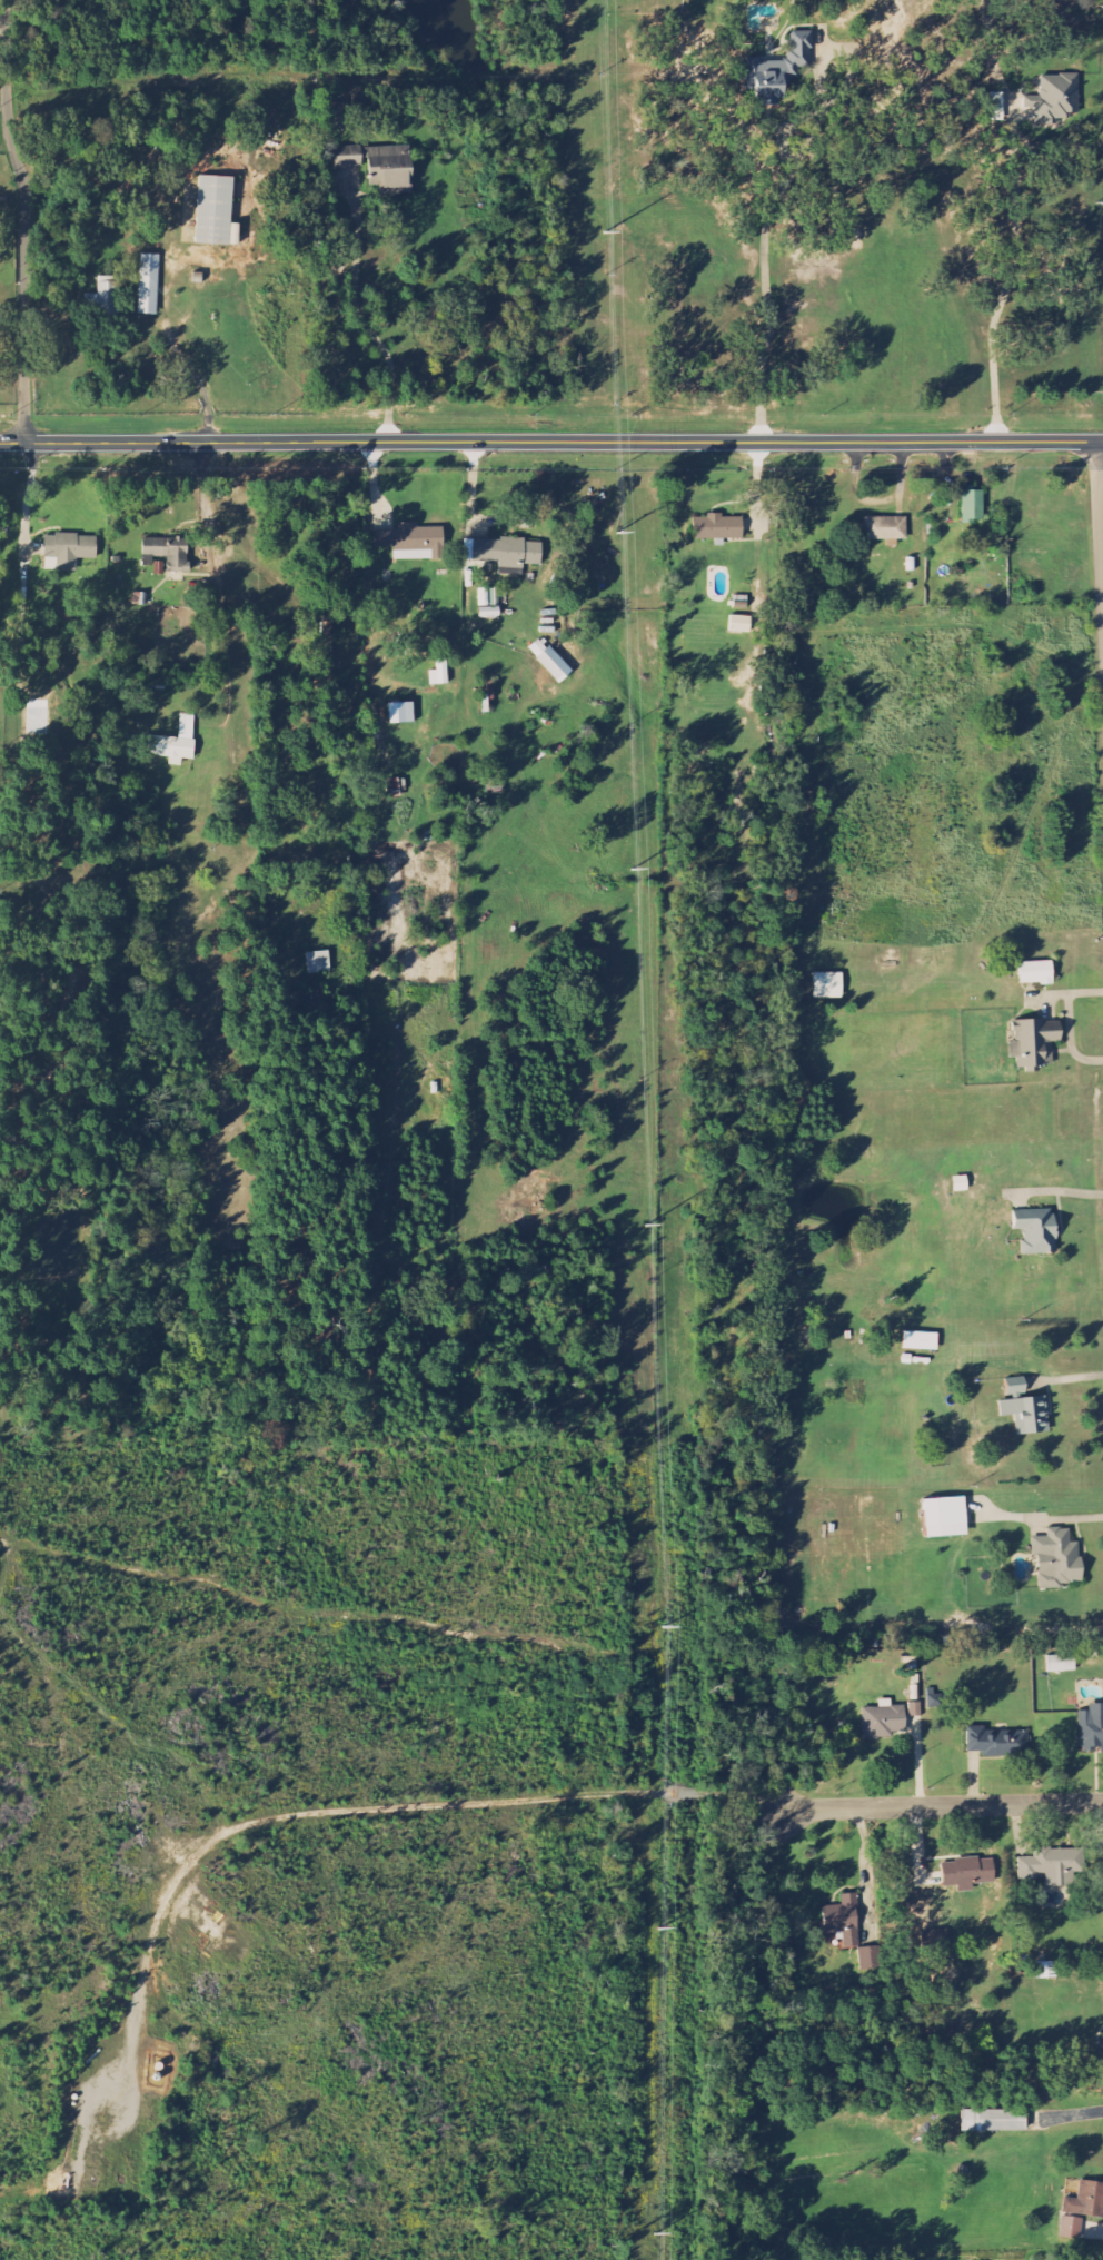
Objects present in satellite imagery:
building: (777, 70)
building: (1054, 99)
building: (335, 118)
building: (216, 212)
road: (24, 219)
power tower: (605, 232)
building: (148, 285)
road: (162, 286)
building: (106, 297)
road: (361, 321)
road: (550, 442)
road: (1100, 496)
building: (972, 506)
building: (717, 527)
power tower: (616, 532)
building: (413, 542)
building: (70, 549)
building: (166, 552)
building: (506, 554)
building: (488, 603)
building: (741, 625)
building: (549, 661)
road: (284, 664)
building: (400, 713)
building: (176, 743)
building: (397, 787)
power tower: (632, 869)
building: (318, 963)
building: (1036, 973)
building: (827, 985)
building: (1034, 1043)
power tower: (644, 1225)
building: (1036, 1231)
building: (920, 1341)
building: (1025, 1412)
building: (944, 1517)
building: (1057, 1558)
power tower: (660, 1628)
building: (1061, 1664)
building: (915, 1709)
building: (884, 1721)
building: (1091, 1729)
building: (997, 1744)
road: (941, 1805)
road: (321, 1813)
building: (1051, 1865)
building: (967, 1873)
building: (843, 1921)
power tower: (656, 1930)
building: (868, 1959)
building: (1044, 1971)
building: (1099, 2052)
building: (993, 2121)
building: (1082, 2210)
power tower: (653, 2231)

